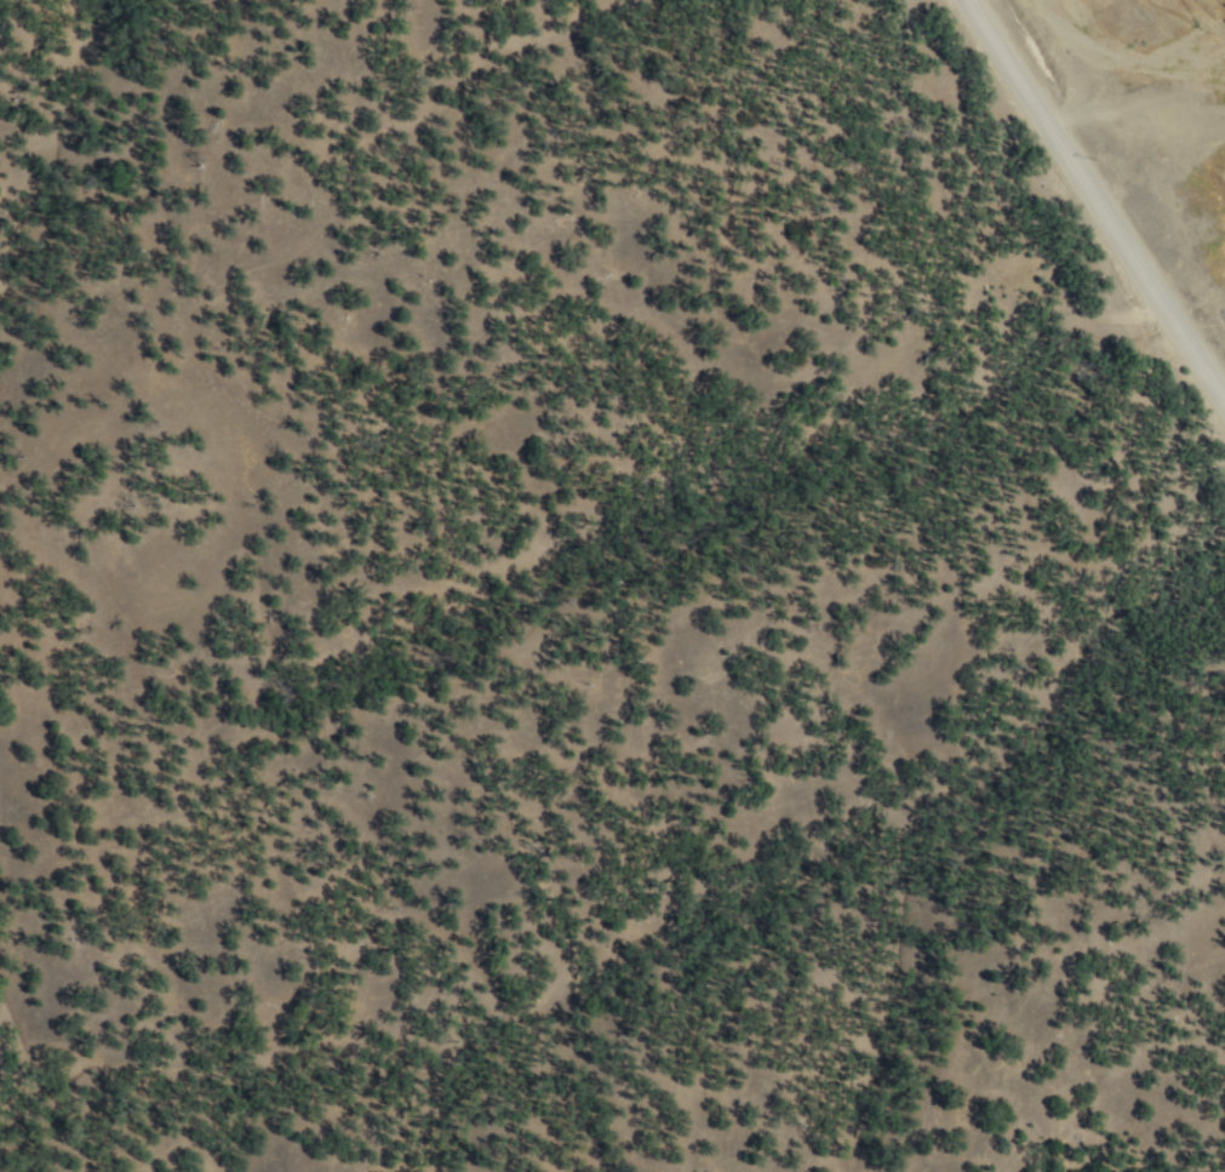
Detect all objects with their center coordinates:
river: (1223, 15)
road: (1097, 202)

